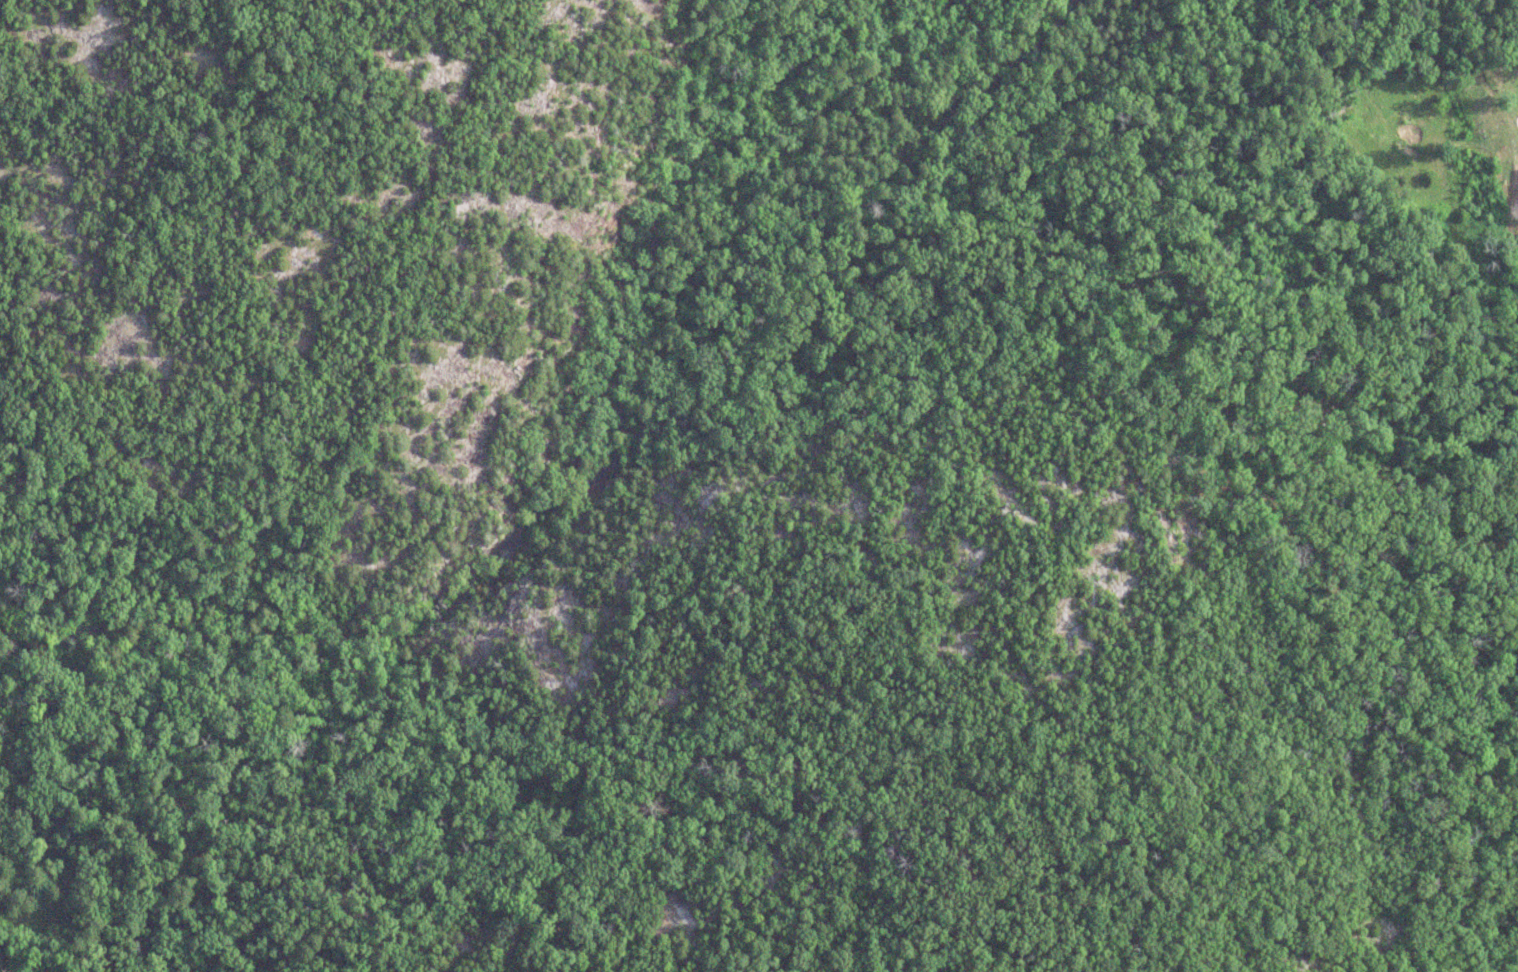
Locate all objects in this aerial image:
road: (1452, 79)

